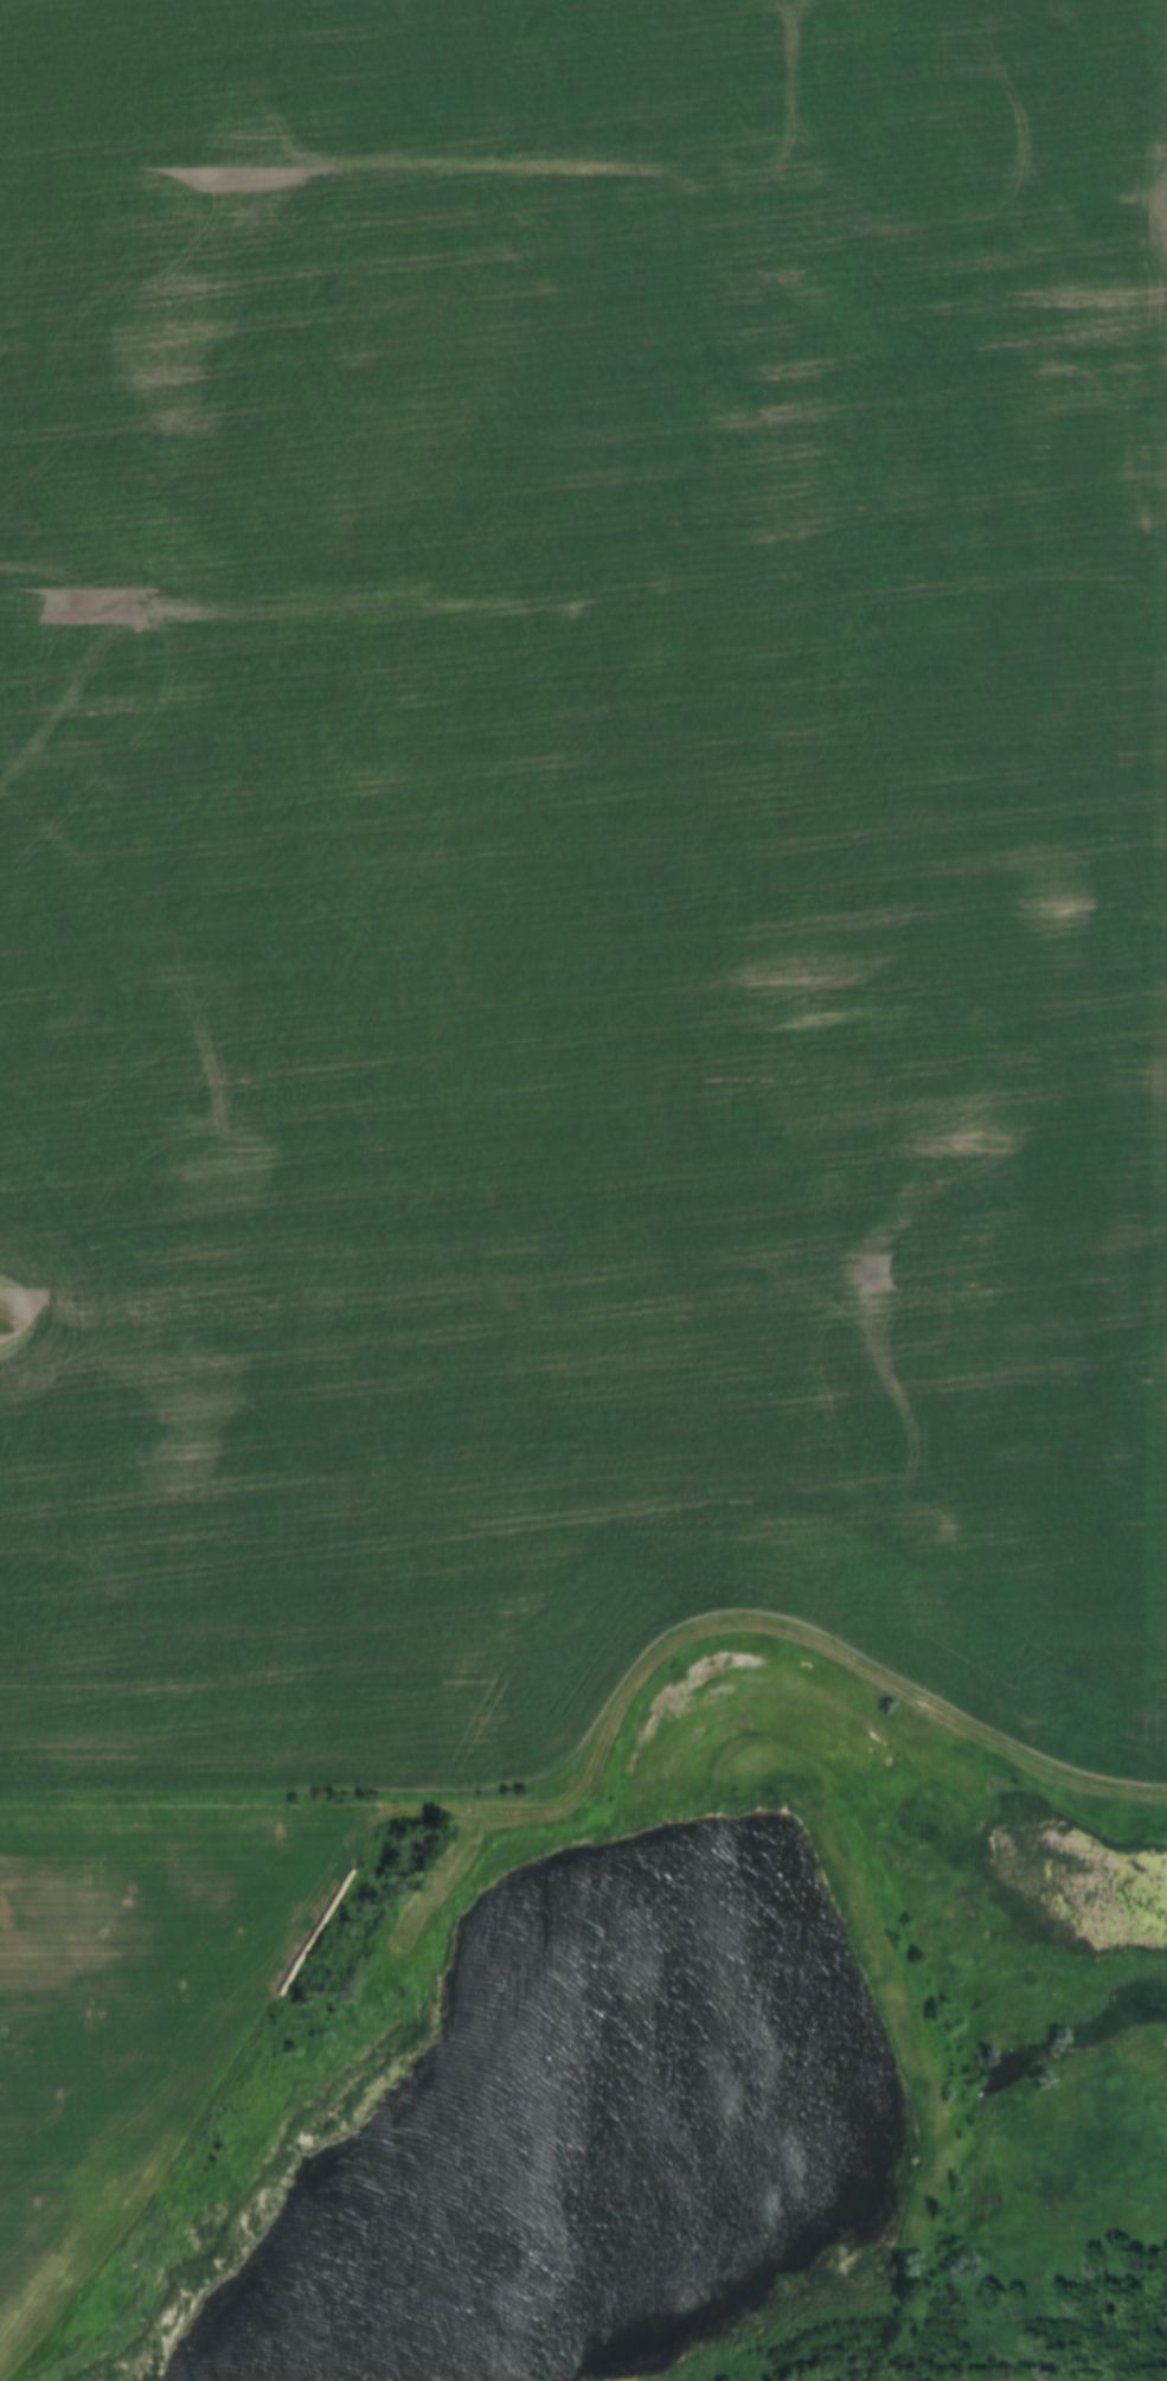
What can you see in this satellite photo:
road: (611, 1741)

